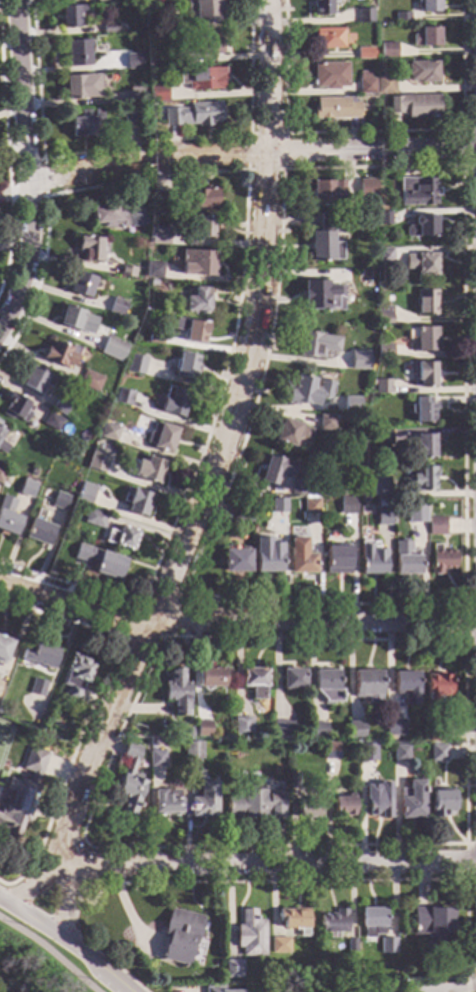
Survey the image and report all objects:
building: (100, 0)
building: (425, 6)
building: (320, 8)
building: (204, 11)
building: (69, 16)
building: (361, 16)
building: (400, 18)
building: (166, 24)
building: (108, 29)
building: (120, 29)
building: (424, 38)
building: (326, 39)
building: (207, 44)
building: (385, 51)
building: (77, 53)
building: (362, 54)
building: (133, 61)
building: (176, 62)
building: (115, 63)
building: (421, 73)
building: (328, 76)
building: (201, 79)
building: (363, 84)
building: (383, 85)
building: (80, 87)
building: (156, 94)
building: (135, 95)
building: (412, 106)
building: (333, 109)
building: (193, 116)
building: (129, 118)
building: (84, 123)
road: (251, 152)
road: (27, 169)
building: (365, 188)
building: (415, 192)
building: (328, 194)
building: (202, 199)
building: (160, 201)
building: (109, 216)
building: (136, 218)
building: (381, 219)
building: (201, 227)
building: (420, 227)
building: (158, 237)
building: (323, 240)
building: (90, 249)
building: (383, 256)
building: (196, 264)
building: (424, 265)
building: (151, 270)
building: (125, 272)
building: (79, 285)
building: (320, 297)
building: (196, 302)
building: (425, 303)
building: (116, 308)
building: (383, 316)
building: (71, 318)
building: (190, 331)
building: (154, 337)
building: (420, 340)
building: (314, 345)
building: (110, 351)
building: (382, 352)
building: (59, 355)
building: (358, 360)
building: (134, 365)
building: (184, 367)
building: (422, 376)
building: (35, 381)
building: (88, 382)
building: (380, 387)
building: (304, 392)
building: (122, 397)
building: (173, 403)
building: (349, 405)
building: (59, 406)
building: (15, 409)
building: (421, 411)
building: (0, 420)
building: (51, 422)
building: (325, 423)
building: (0, 425)
building: (1, 433)
building: (107, 433)
building: (289, 434)
building: (380, 437)
building: (160, 439)
road: (222, 446)
building: (2, 448)
building: (420, 448)
building: (96, 463)
building: (148, 470)
building: (274, 471)
building: (1, 474)
building: (422, 480)
building: (380, 487)
building: (295, 488)
building: (26, 489)
building: (343, 491)
building: (85, 494)
building: (58, 502)
building: (134, 502)
building: (345, 506)
building: (276, 507)
building: (309, 507)
building: (239, 513)
building: (414, 514)
building: (8, 517)
building: (94, 519)
building: (381, 519)
building: (435, 527)
building: (38, 530)
building: (121, 538)
building: (404, 560)
building: (235, 561)
building: (336, 561)
building: (370, 561)
building: (439, 561)
building: (99, 562)
building: (266, 563)
building: (300, 564)
road: (235, 622)
building: (3, 649)
building: (39, 657)
building: (74, 678)
building: (211, 679)
building: (290, 680)
building: (253, 682)
building: (365, 684)
building: (326, 687)
building: (405, 687)
building: (0, 688)
building: (36, 688)
building: (436, 689)
building: (175, 693)
building: (241, 728)
building: (393, 728)
building: (202, 730)
building: (354, 730)
building: (281, 731)
building: (317, 731)
building: (436, 733)
building: (191, 751)
building: (329, 752)
building: (365, 753)
building: (398, 754)
building: (436, 754)
building: (155, 759)
building: (128, 782)
building: (291, 782)
building: (21, 795)
building: (202, 802)
building: (411, 802)
building: (375, 803)
building: (165, 804)
building: (254, 804)
building: (441, 804)
building: (342, 808)
building: (307, 811)
road: (275, 868)
road: (37, 884)
road: (66, 907)
building: (292, 921)
building: (371, 922)
building: (430, 922)
building: (332, 924)
building: (249, 935)
building: (178, 937)
road: (64, 944)
building: (277, 946)
building: (349, 947)
building: (385, 947)
road: (49, 952)
park: (36, 965)
building: (231, 970)
parking lot: (104, 984)
building: (296, 988)
building: (389, 988)
building: (212, 990)
building: (234, 991)

